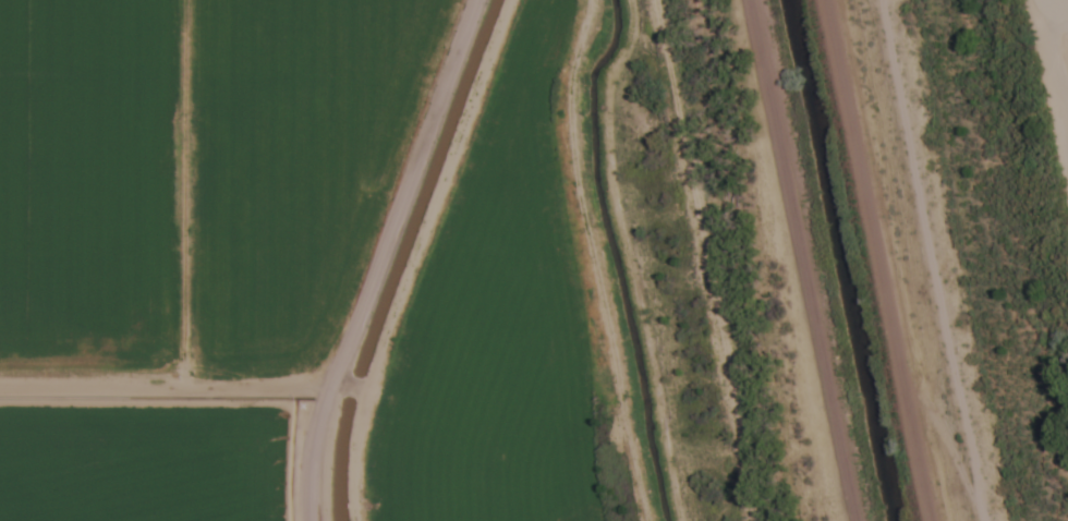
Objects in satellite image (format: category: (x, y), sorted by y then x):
river: (1064, 21)
crop: (187, 239)
road: (367, 257)
road: (803, 260)
road: (929, 260)

